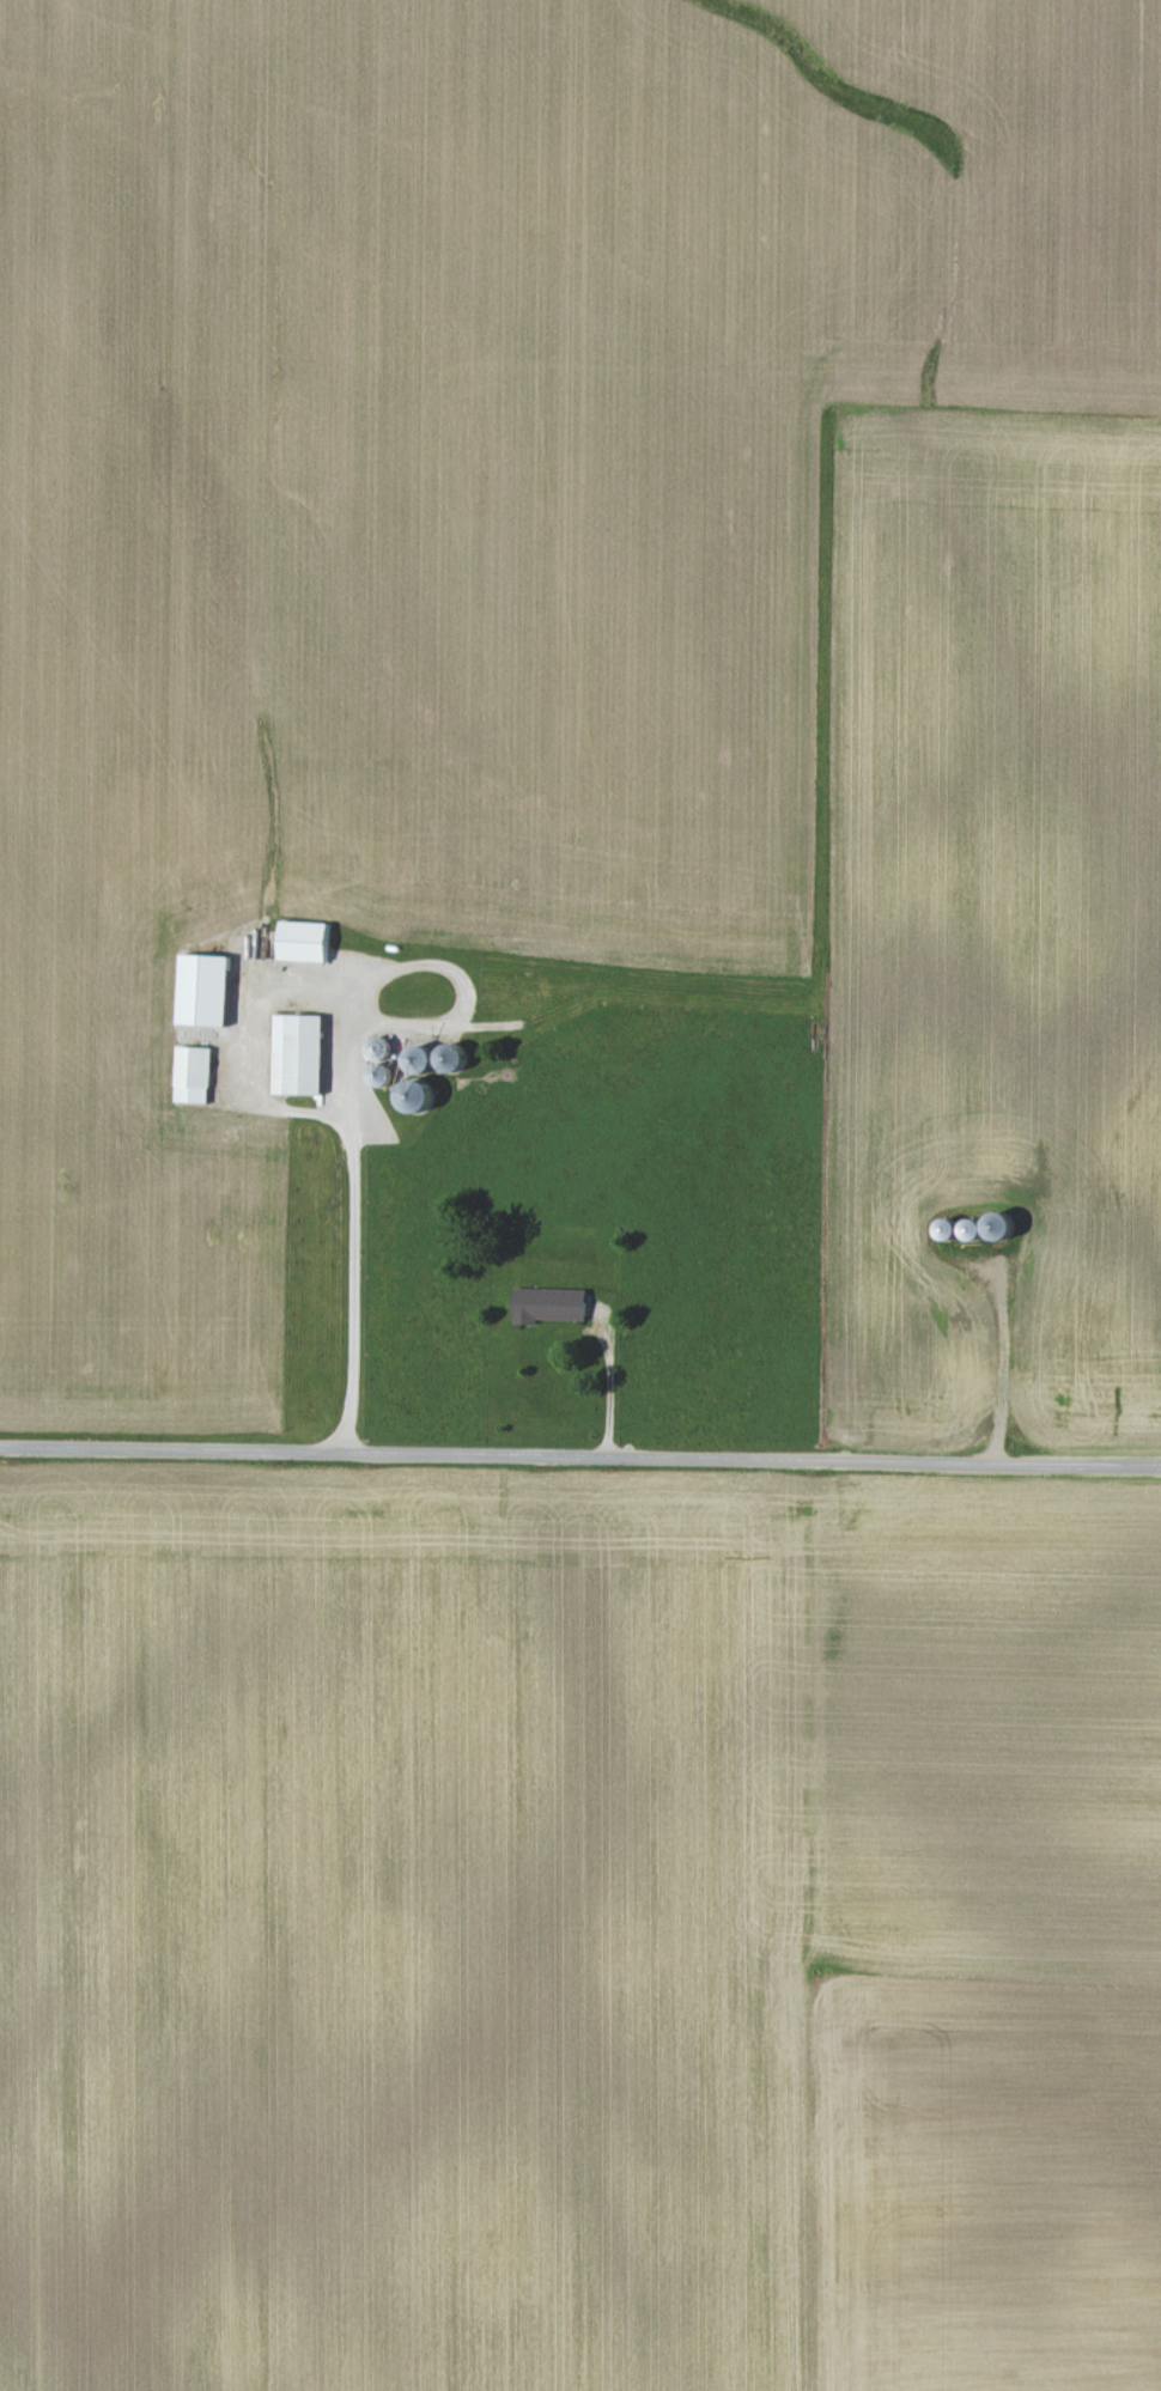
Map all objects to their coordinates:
building: (201, 988)
building: (296, 1053)
road: (348, 1082)
building: (547, 1304)
road: (609, 1380)
road: (579, 1458)

